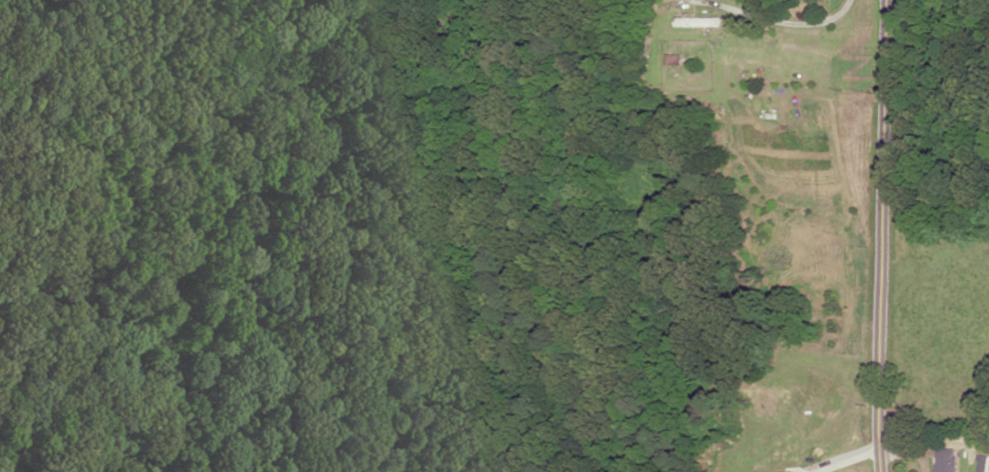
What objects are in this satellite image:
road: (770, 20)
building: (699, 22)
building: (676, 59)
road: (882, 236)
road: (905, 455)
building: (946, 460)
building: (984, 464)

